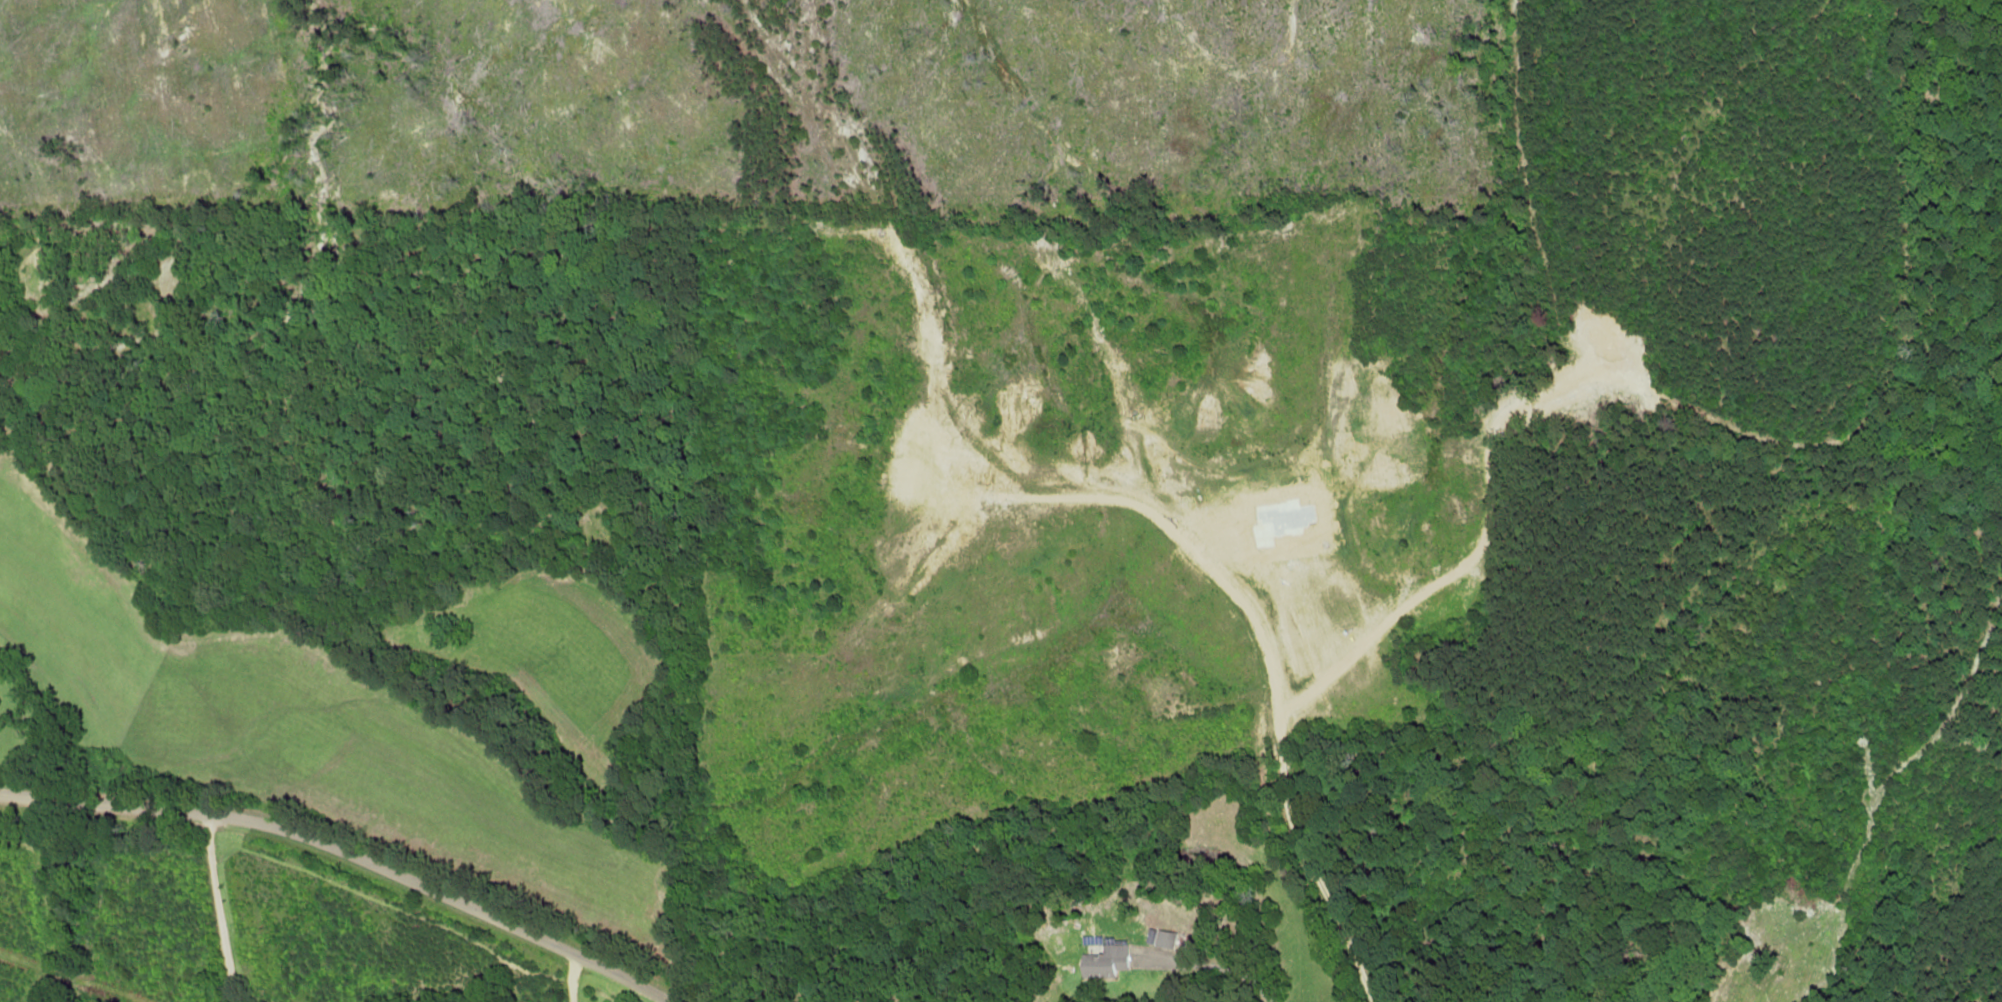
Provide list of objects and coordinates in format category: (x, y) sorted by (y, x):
road: (352, 852)
building: (1104, 961)

